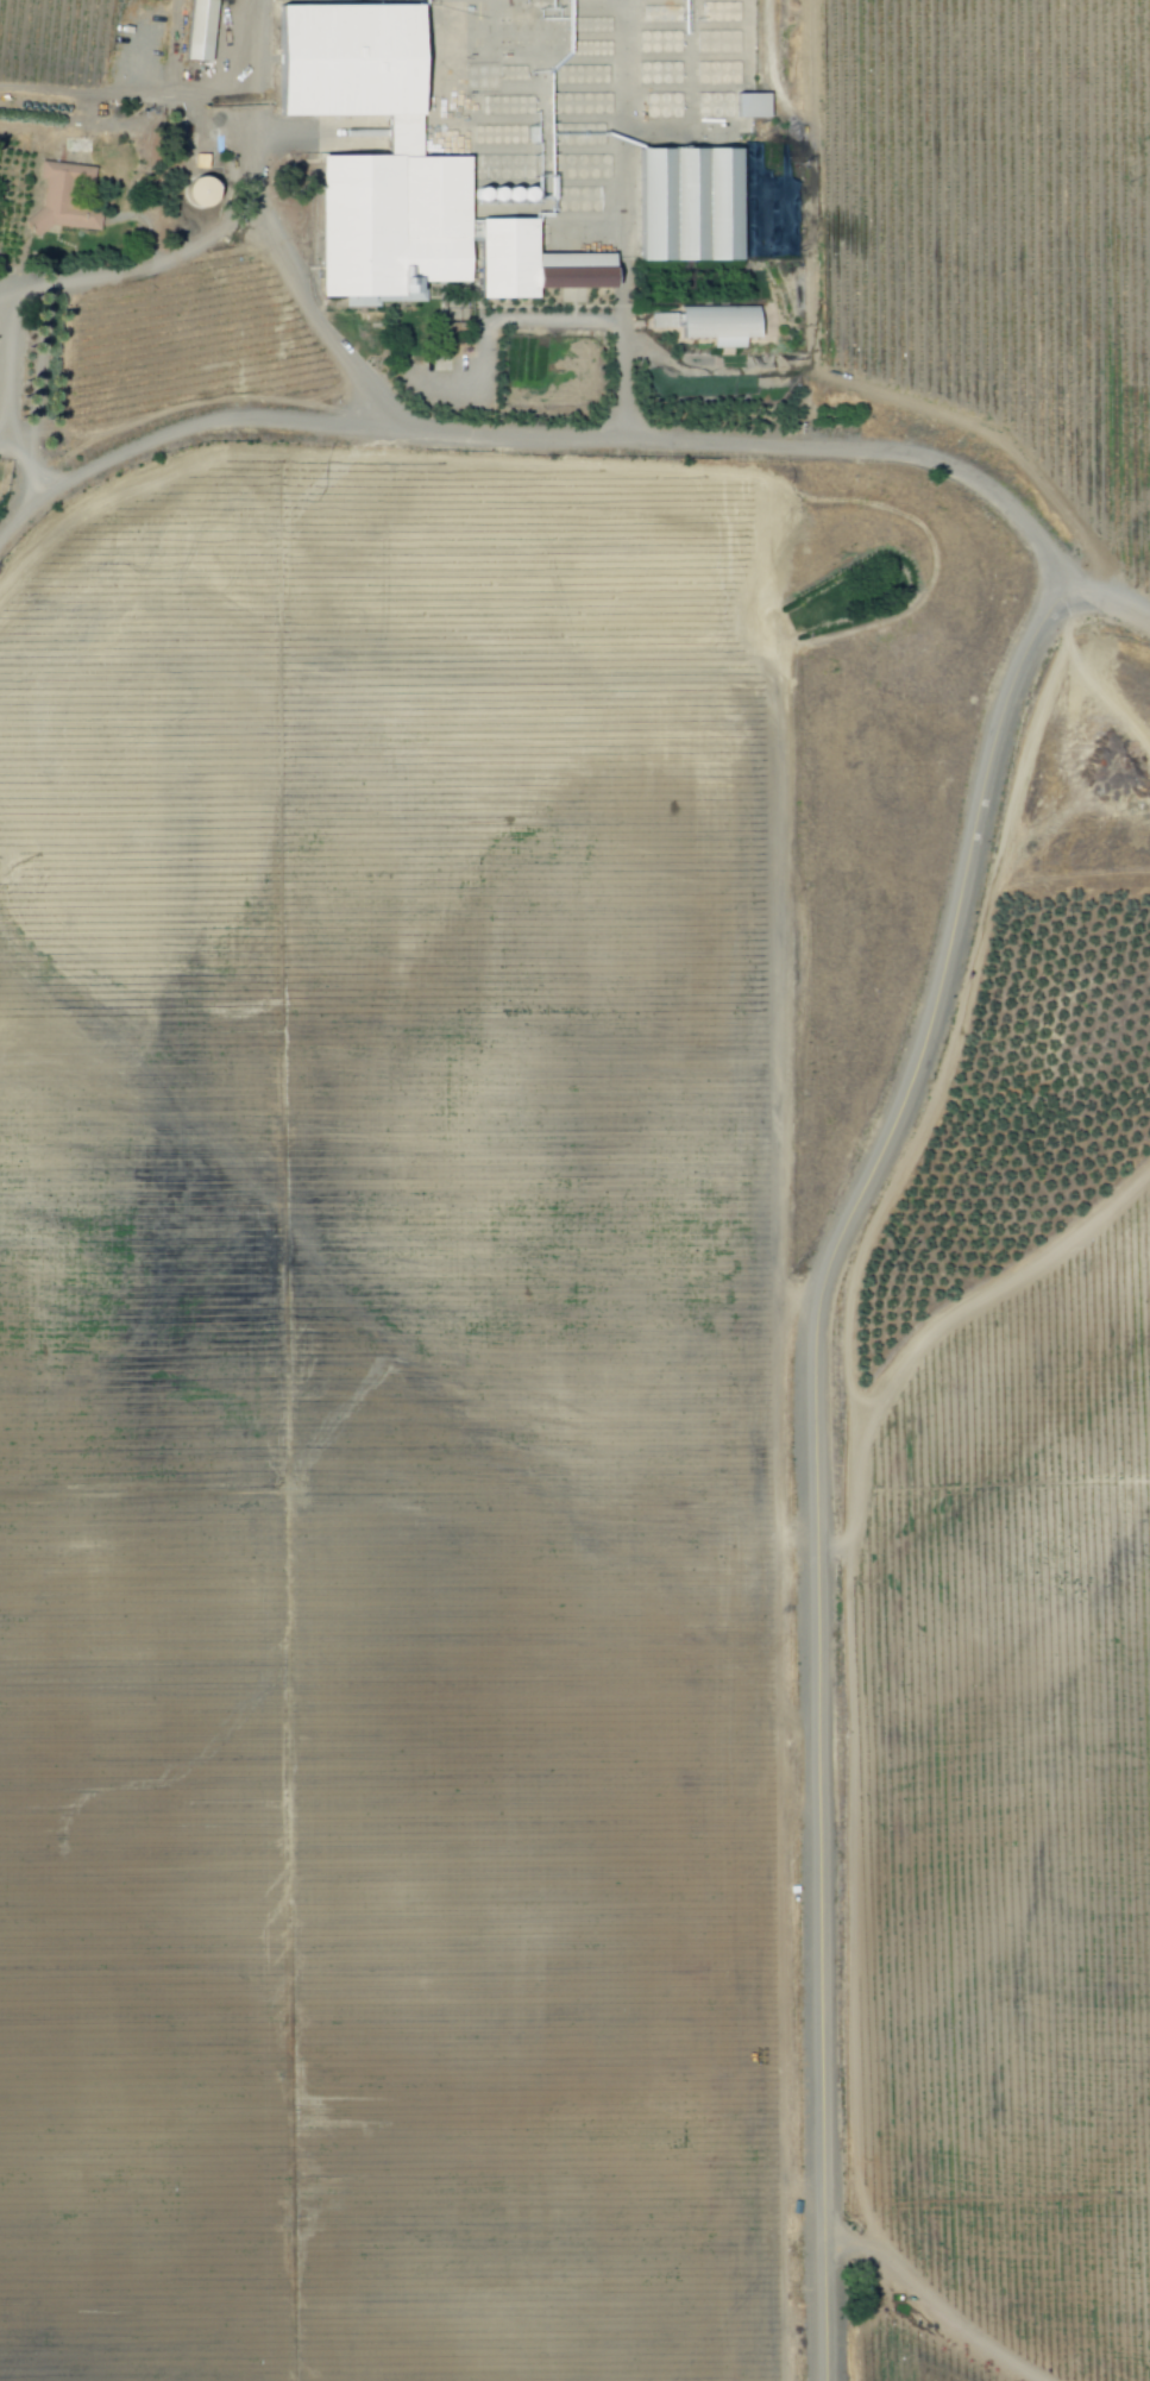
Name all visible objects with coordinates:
building: (194, 31)
road: (158, 93)
building: (747, 106)
building: (392, 172)
road: (798, 181)
building: (61, 199)
road: (272, 231)
road: (58, 277)
road: (21, 278)
road: (611, 322)
building: (714, 325)
road: (620, 346)
road: (542, 435)
road: (19, 442)
road: (1114, 603)
road: (819, 1456)

